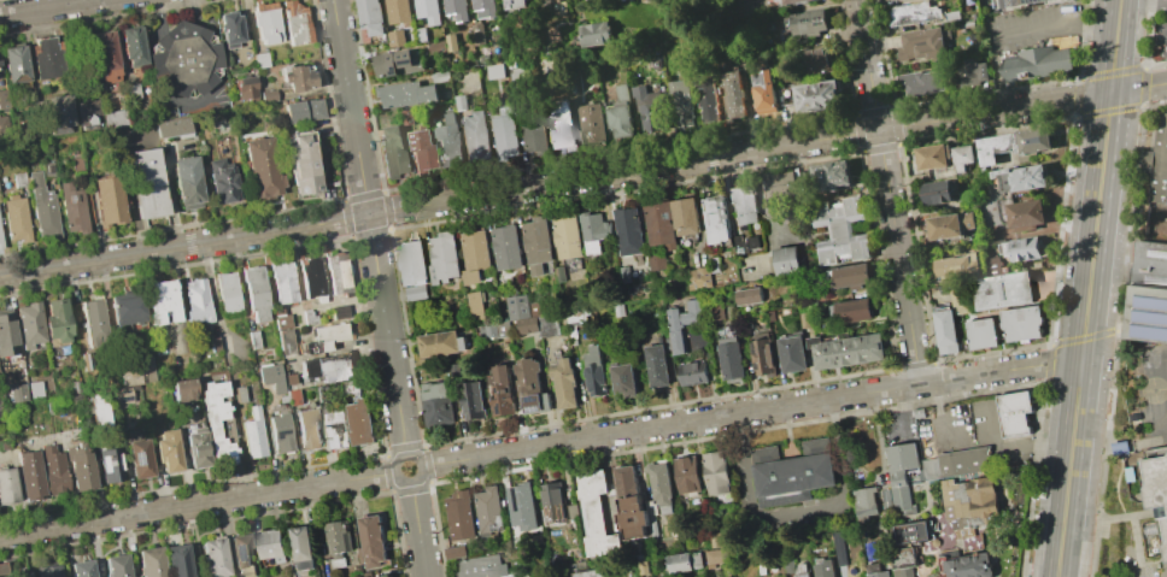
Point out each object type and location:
building: (787, 1)
building: (1040, 2)
building: (516, 4)
rooftop solar panel: (511, 5)
road: (1143, 5)
road: (47, 7)
building: (483, 8)
building: (457, 10)
building: (398, 11)
building: (427, 11)
building: (913, 13)
building: (370, 16)
building: (294, 22)
building: (809, 22)
building: (266, 23)
road: (1058, 24)
building: (229, 29)
parking lot: (1162, 31)
building: (596, 33)
building: (477, 34)
building: (394, 37)
building: (451, 41)
building: (921, 45)
building: (130, 46)
building: (104, 54)
building: (47, 57)
building: (183, 59)
building: (259, 59)
building: (820, 60)
building: (399, 63)
building: (1034, 63)
building: (13, 64)
building: (494, 70)
building: (972, 73)
building: (516, 76)
building: (297, 77)
rooftop solar panel: (762, 78)
building: (921, 82)
building: (245, 89)
building: (130, 90)
building: (763, 92)
traffic signals: (1112, 92)
building: (406, 93)
building: (732, 94)
building: (266, 95)
building: (816, 95)
building: (2, 99)
building: (708, 100)
building: (461, 102)
building: (680, 102)
building: (646, 106)
building: (301, 111)
building: (59, 114)
building: (87, 114)
building: (620, 114)
building: (113, 118)
building: (590, 123)
building: (2, 125)
building: (561, 125)
building: (171, 126)
building: (504, 131)
building: (532, 131)
building: (476, 134)
building: (447, 140)
building: (1011, 145)
building: (421, 151)
building: (392, 152)
building: (932, 157)
building: (962, 157)
building: (300, 163)
building: (263, 166)
building: (1159, 170)
building: (831, 176)
road: (582, 178)
building: (1021, 178)
building: (18, 179)
building: (221, 181)
building: (145, 183)
building: (186, 183)
building: (779, 184)
road: (889, 192)
building: (938, 192)
building: (107, 201)
building: (743, 205)
building: (41, 207)
building: (71, 208)
building: (686, 216)
building: (1026, 216)
building: (716, 218)
building: (14, 219)
building: (661, 222)
building: (950, 224)
road: (369, 226)
building: (594, 229)
building: (629, 230)
building: (840, 230)
building: (565, 236)
building: (0, 245)
building: (536, 245)
building: (0, 247)
building: (505, 247)
building: (1021, 249)
building: (474, 251)
building: (444, 255)
building: (787, 260)
building: (657, 261)
building: (956, 266)
building: (412, 270)
building: (336, 272)
building: (848, 276)
building: (311, 277)
building: (700, 278)
building: (282, 282)
road: (1090, 288)
building: (227, 290)
building: (1003, 290)
building: (1148, 292)
building: (256, 294)
building: (749, 295)
building: (195, 300)
building: (162, 301)
building: (475, 304)
building: (128, 308)
building: (851, 310)
rooftop solar panel: (1022, 311)
building: (807, 314)
building: (307, 317)
building: (529, 318)
building: (54, 319)
rooftop solar panel: (981, 319)
building: (92, 320)
building: (681, 322)
building: (1022, 322)
building: (30, 325)
building: (494, 329)
building: (945, 329)
building: (283, 332)
building: (981, 332)
building: (6, 334)
building: (327, 338)
building: (444, 342)
building: (848, 351)
building: (792, 353)
building: (731, 357)
building: (764, 357)
building: (657, 365)
building: (327, 367)
building: (594, 369)
building: (136, 371)
building: (692, 372)
building: (270, 377)
building: (623, 378)
building: (565, 383)
building: (532, 384)
rooftop solar panel: (499, 385)
building: (34, 389)
building: (502, 389)
building: (182, 390)
building: (17, 393)
building: (119, 394)
building: (239, 394)
rooftop solar panel: (535, 395)
building: (69, 398)
building: (474, 400)
building: (438, 402)
rooftop solar panel: (538, 404)
rooftop solar panel: (500, 405)
road: (940, 406)
road: (751, 412)
road: (904, 412)
building: (1015, 412)
building: (362, 422)
building: (218, 423)
building: (336, 428)
building: (309, 429)
rooftop solar panel: (281, 431)
building: (280, 432)
building: (252, 434)
building: (195, 446)
road: (1011, 446)
building: (166, 449)
rooftop solar panel: (135, 455)
building: (139, 458)
road: (418, 460)
building: (110, 464)
building: (80, 467)
building: (53, 469)
building: (717, 472)
building: (793, 472)
building: (29, 473)
building: (687, 475)
building: (7, 485)
building: (662, 485)
building: (969, 489)
building: (1156, 491)
building: (553, 501)
building: (633, 501)
road: (198, 504)
building: (522, 504)
building: (488, 511)
road: (801, 511)
building: (458, 514)
building: (594, 514)
road: (418, 528)
building: (915, 531)
building: (338, 540)
building: (374, 541)
building: (272, 546)
building: (301, 547)
rooftop solar panel: (236, 550)
building: (839, 550)
building: (241, 555)
building: (716, 555)
building: (212, 558)
building: (176, 560)
building: (685, 560)
building: (905, 560)
building: (149, 561)
building: (115, 565)
building: (968, 565)
building: (481, 566)
building: (823, 567)
building: (2, 569)
building: (80, 569)
building: (801, 570)
building: (876, 570)
building: (48, 571)
building: (590, 572)
building: (19, 575)
building: (387, 575)
building: (133, 576)
rooftop solar panel: (805, 576)
parking lot: (942, 576)

